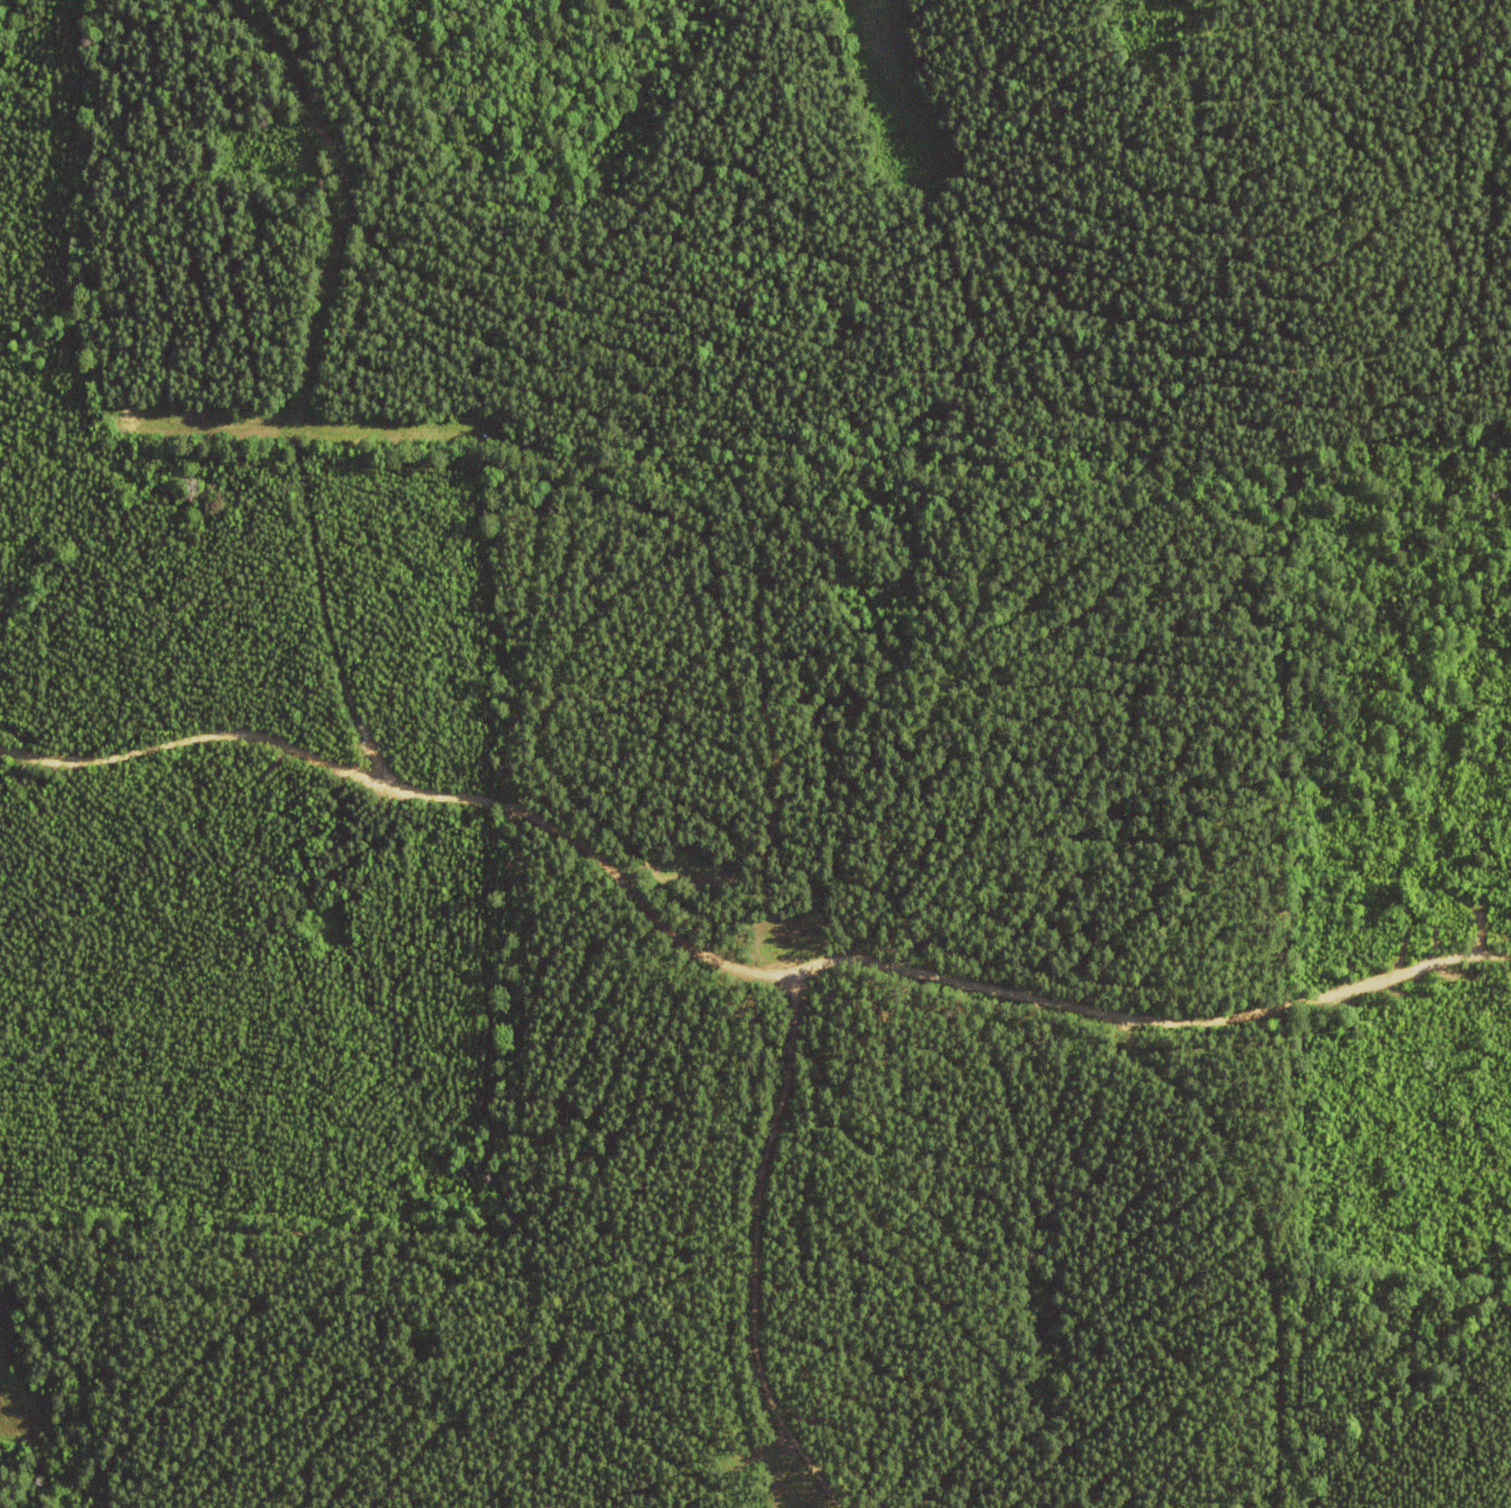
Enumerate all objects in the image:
road: (1452, 980)

